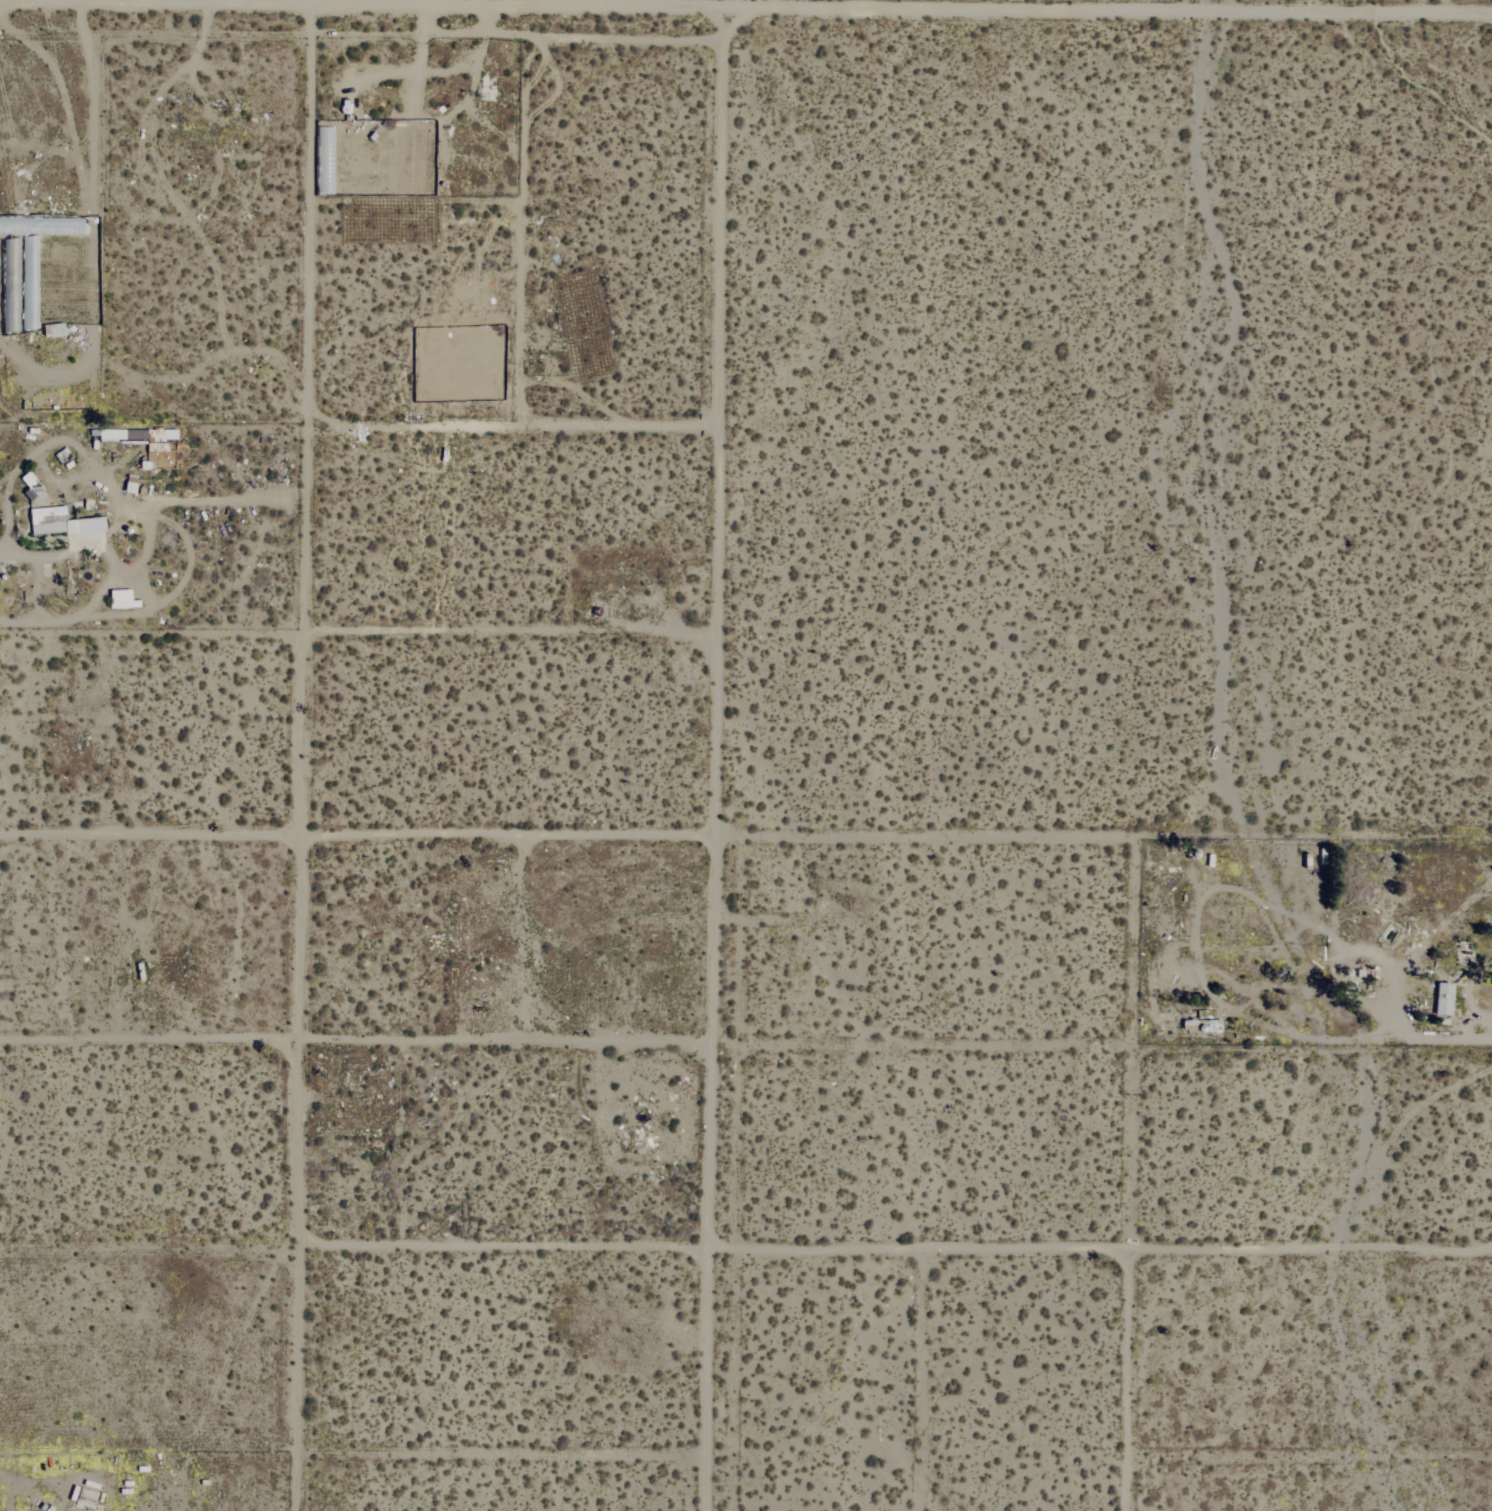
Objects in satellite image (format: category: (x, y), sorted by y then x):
road: (745, 17)
road: (112, 491)
building: (63, 522)
road: (713, 764)
building: (1441, 999)
road: (1351, 1036)
road: (295, 1130)

